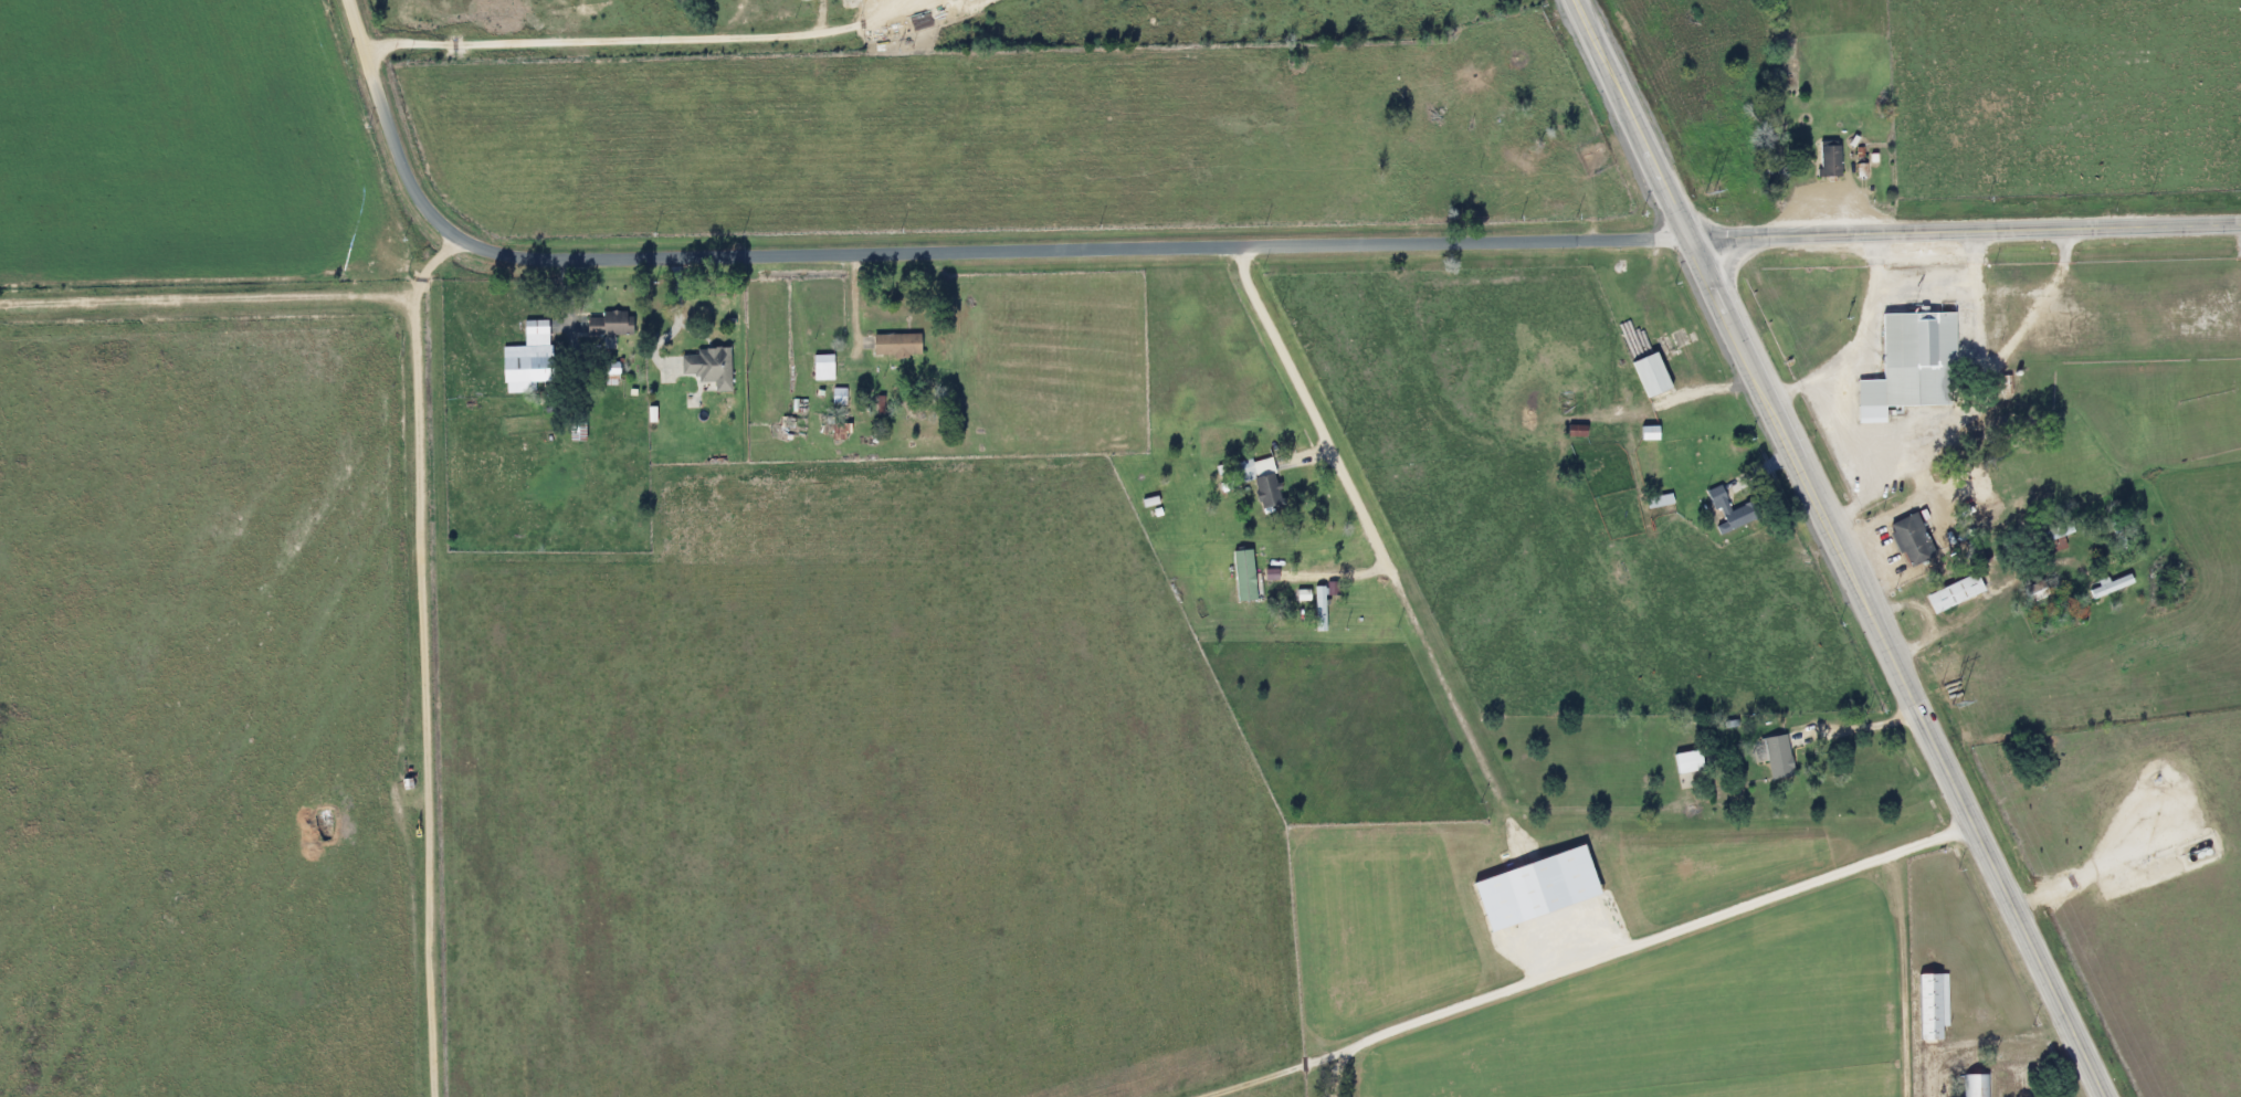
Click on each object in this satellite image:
road: (610, 41)
building: (1827, 158)
power tower: (1707, 192)
road: (1966, 231)
road: (938, 252)
road: (206, 299)
building: (607, 324)
road: (1858, 338)
building: (893, 345)
building: (526, 360)
building: (1913, 360)
building: (706, 367)
building: (820, 367)
building: (1648, 376)
building: (574, 432)
road: (1866, 455)
building: (1259, 482)
building: (1979, 492)
building: (1726, 511)
building: (2051, 538)
building: (1908, 540)
road: (1841, 548)
building: (2108, 586)
building: (2033, 591)
building: (1951, 593)
road: (1989, 597)
road: (1402, 603)
road: (424, 657)
power tower: (1950, 694)
road: (1871, 726)
building: (1775, 758)
building: (1685, 762)
road: (1637, 945)
building: (1929, 1006)
road: (1286, 1070)
building: (1974, 1086)

